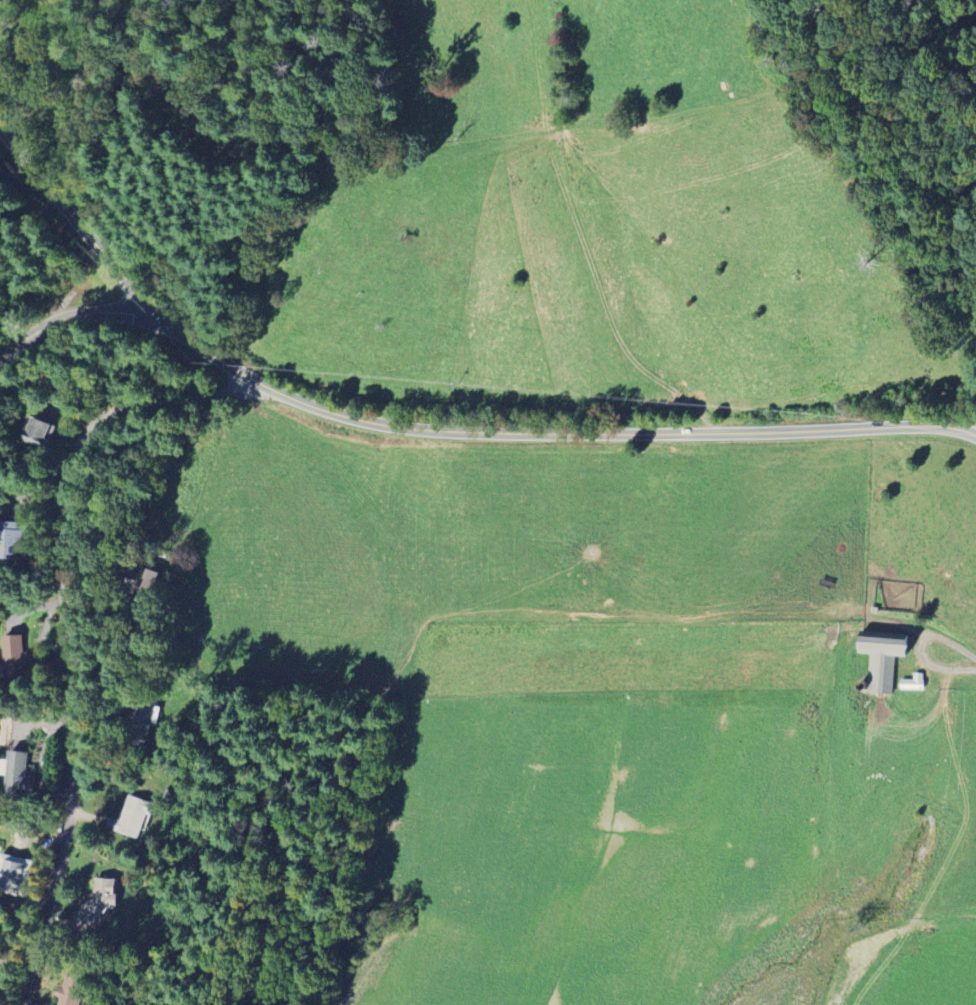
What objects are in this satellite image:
road: (881, 49)
park: (731, 95)
crop: (591, 227)
road: (67, 318)
road: (430, 432)
building: (39, 433)
crop: (927, 524)
building: (9, 540)
crop: (486, 542)
building: (139, 581)
road: (65, 623)
building: (13, 651)
road: (952, 655)
building: (880, 658)
building: (911, 682)
building: (136, 725)
building: (17, 774)
crop: (903, 790)
building: (130, 817)
crop: (613, 820)
building: (13, 874)
building: (98, 900)
crop: (922, 967)
building: (72, 989)

